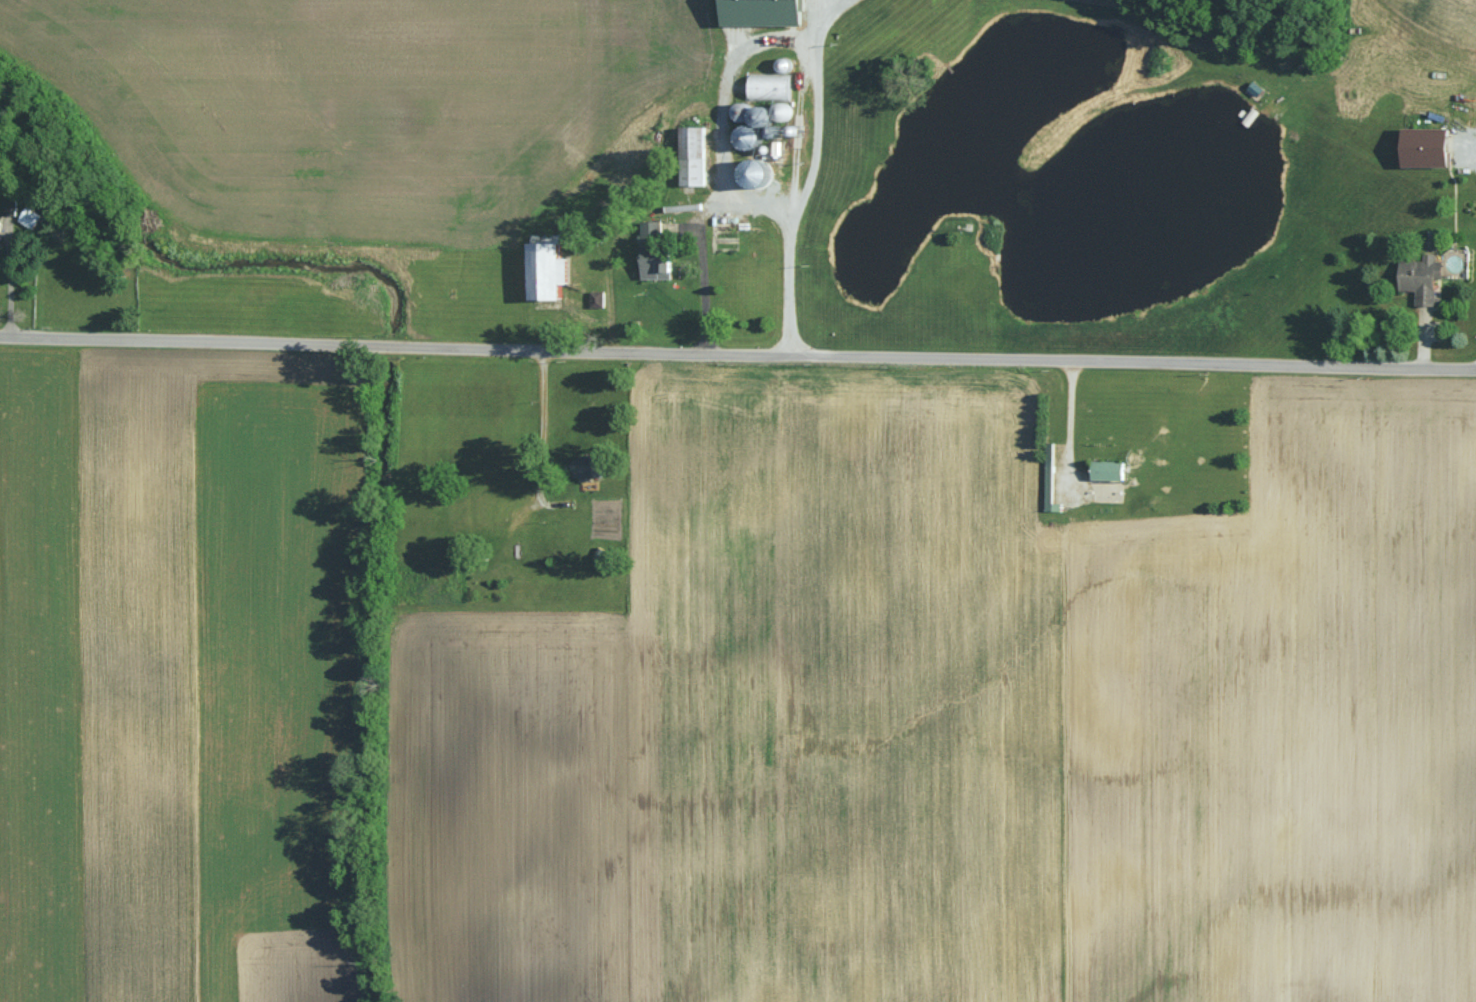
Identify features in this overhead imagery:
building: (755, 12)
road: (795, 38)
building: (1419, 147)
building: (689, 156)
road: (707, 203)
building: (10, 206)
building: (33, 218)
building: (647, 232)
building: (651, 264)
building: (542, 267)
road: (700, 280)
building: (1419, 280)
road: (738, 351)
road: (541, 447)
building: (1048, 457)
building: (1104, 470)

